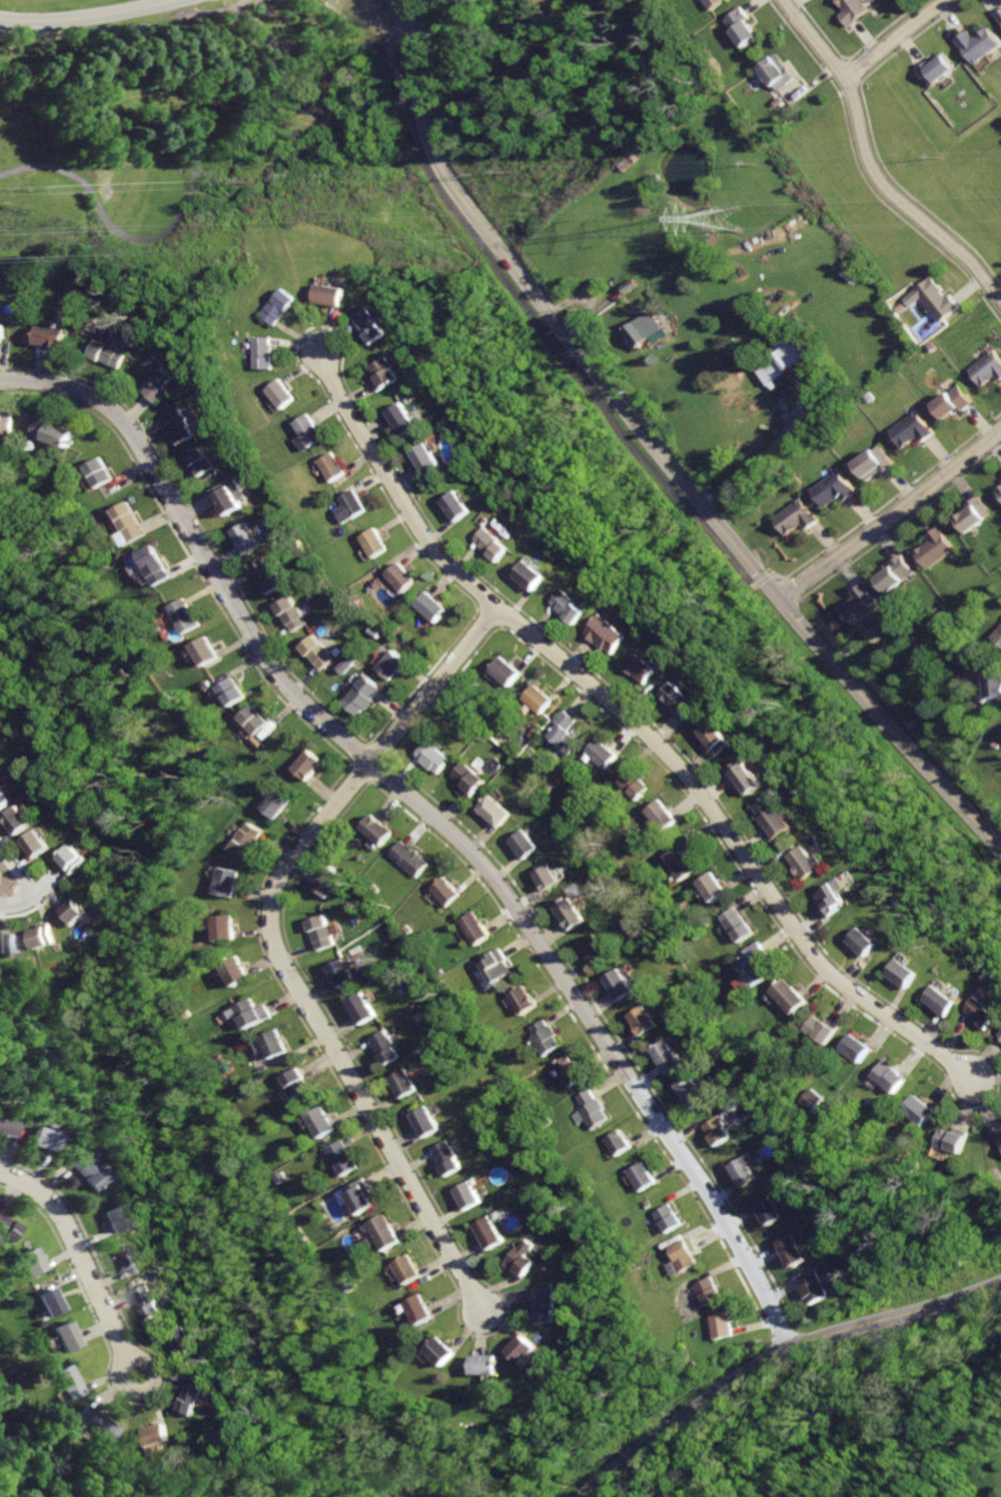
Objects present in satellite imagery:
building: (710, 4)
road: (241, 6)
building: (859, 10)
building: (1000, 14)
road: (90, 17)
building: (741, 26)
road: (900, 40)
building: (984, 44)
building: (942, 70)
building: (778, 72)
road: (193, 86)
park: (225, 133)
road: (870, 166)
power tower: (729, 220)
building: (333, 294)
building: (931, 302)
building: (282, 305)
road: (530, 314)
building: (376, 324)
building: (644, 329)
building: (1, 331)
building: (47, 335)
building: (101, 352)
building: (264, 352)
building: (778, 360)
building: (985, 369)
building: (389, 374)
building: (152, 378)
building: (284, 392)
building: (948, 403)
building: (407, 419)
building: (5, 422)
building: (175, 427)
building: (309, 429)
building: (906, 430)
building: (52, 432)
road: (656, 454)
building: (430, 458)
building: (196, 461)
road: (749, 461)
building: (871, 464)
building: (331, 465)
building: (96, 471)
building: (830, 489)
building: (998, 493)
building: (223, 495)
building: (350, 506)
building: (461, 506)
road: (888, 514)
building: (971, 514)
building: (792, 517)
building: (126, 521)
building: (241, 537)
building: (374, 542)
building: (496, 544)
building: (932, 549)
building: (151, 564)
building: (893, 573)
building: (534, 575)
building: (399, 576)
road: (774, 576)
building: (265, 577)
road: (760, 579)
road: (788, 588)
building: (860, 603)
building: (429, 605)
building: (571, 605)
building: (286, 613)
building: (182, 615)
building: (609, 633)
building: (998, 636)
building: (203, 650)
building: (311, 652)
building: (391, 664)
building: (342, 665)
building: (646, 669)
building: (506, 671)
building: (995, 685)
building: (227, 691)
building: (359, 695)
building: (539, 697)
building: (685, 701)
building: (250, 720)
road: (638, 724)
building: (563, 729)
building: (722, 737)
building: (603, 753)
building: (431, 757)
building: (305, 764)
building: (751, 775)
building: (468, 780)
building: (633, 782)
building: (5, 798)
building: (275, 803)
building: (496, 811)
building: (664, 817)
road: (432, 818)
building: (779, 818)
building: (18, 821)
building: (376, 828)
building: (245, 840)
building: (36, 842)
building: (527, 844)
building: (410, 858)
building: (75, 859)
building: (808, 862)
building: (679, 863)
building: (553, 877)
road: (12, 880)
building: (226, 881)
building: (327, 881)
building: (713, 886)
building: (448, 890)
road: (39, 893)
building: (835, 897)
road: (9, 905)
building: (78, 911)
building: (574, 913)
building: (737, 924)
building: (223, 926)
building: (477, 928)
building: (317, 930)
building: (45, 934)
building: (9, 941)
building: (866, 941)
road: (273, 946)
building: (597, 948)
building: (498, 964)
building: (752, 964)
building: (235, 970)
building: (338, 971)
building: (905, 973)
building: (622, 984)
building: (787, 996)
building: (524, 999)
building: (943, 1000)
building: (358, 1007)
building: (251, 1012)
building: (987, 1012)
building: (645, 1019)
building: (819, 1029)
building: (545, 1037)
building: (273, 1042)
building: (379, 1046)
building: (853, 1047)
building: (668, 1055)
building: (570, 1070)
building: (886, 1075)
building: (295, 1083)
building: (401, 1083)
building: (693, 1091)
building: (810, 1100)
building: (917, 1109)
building: (590, 1110)
building: (422, 1120)
building: (320, 1121)
building: (4, 1124)
building: (717, 1130)
building: (997, 1135)
building: (37, 1138)
building: (949, 1138)
building: (618, 1142)
building: (444, 1158)
building: (340, 1159)
building: (79, 1170)
building: (742, 1170)
building: (641, 1176)
building: (465, 1194)
building: (358, 1195)
building: (763, 1210)
building: (111, 1217)
building: (665, 1218)
building: (8, 1227)
building: (383, 1231)
building: (486, 1232)
building: (785, 1250)
road: (77, 1254)
building: (680, 1254)
building: (130, 1257)
building: (519, 1258)
building: (32, 1261)
building: (669, 1268)
building: (404, 1269)
building: (805, 1286)
building: (703, 1291)
building: (52, 1301)
building: (152, 1303)
building: (543, 1304)
building: (416, 1309)
building: (719, 1325)
building: (69, 1334)
building: (189, 1339)
building: (521, 1348)
building: (439, 1351)
road: (775, 1356)
building: (483, 1362)
building: (73, 1381)
road: (146, 1389)
building: (195, 1394)
road: (935, 1398)
building: (100, 1420)
building: (154, 1434)

